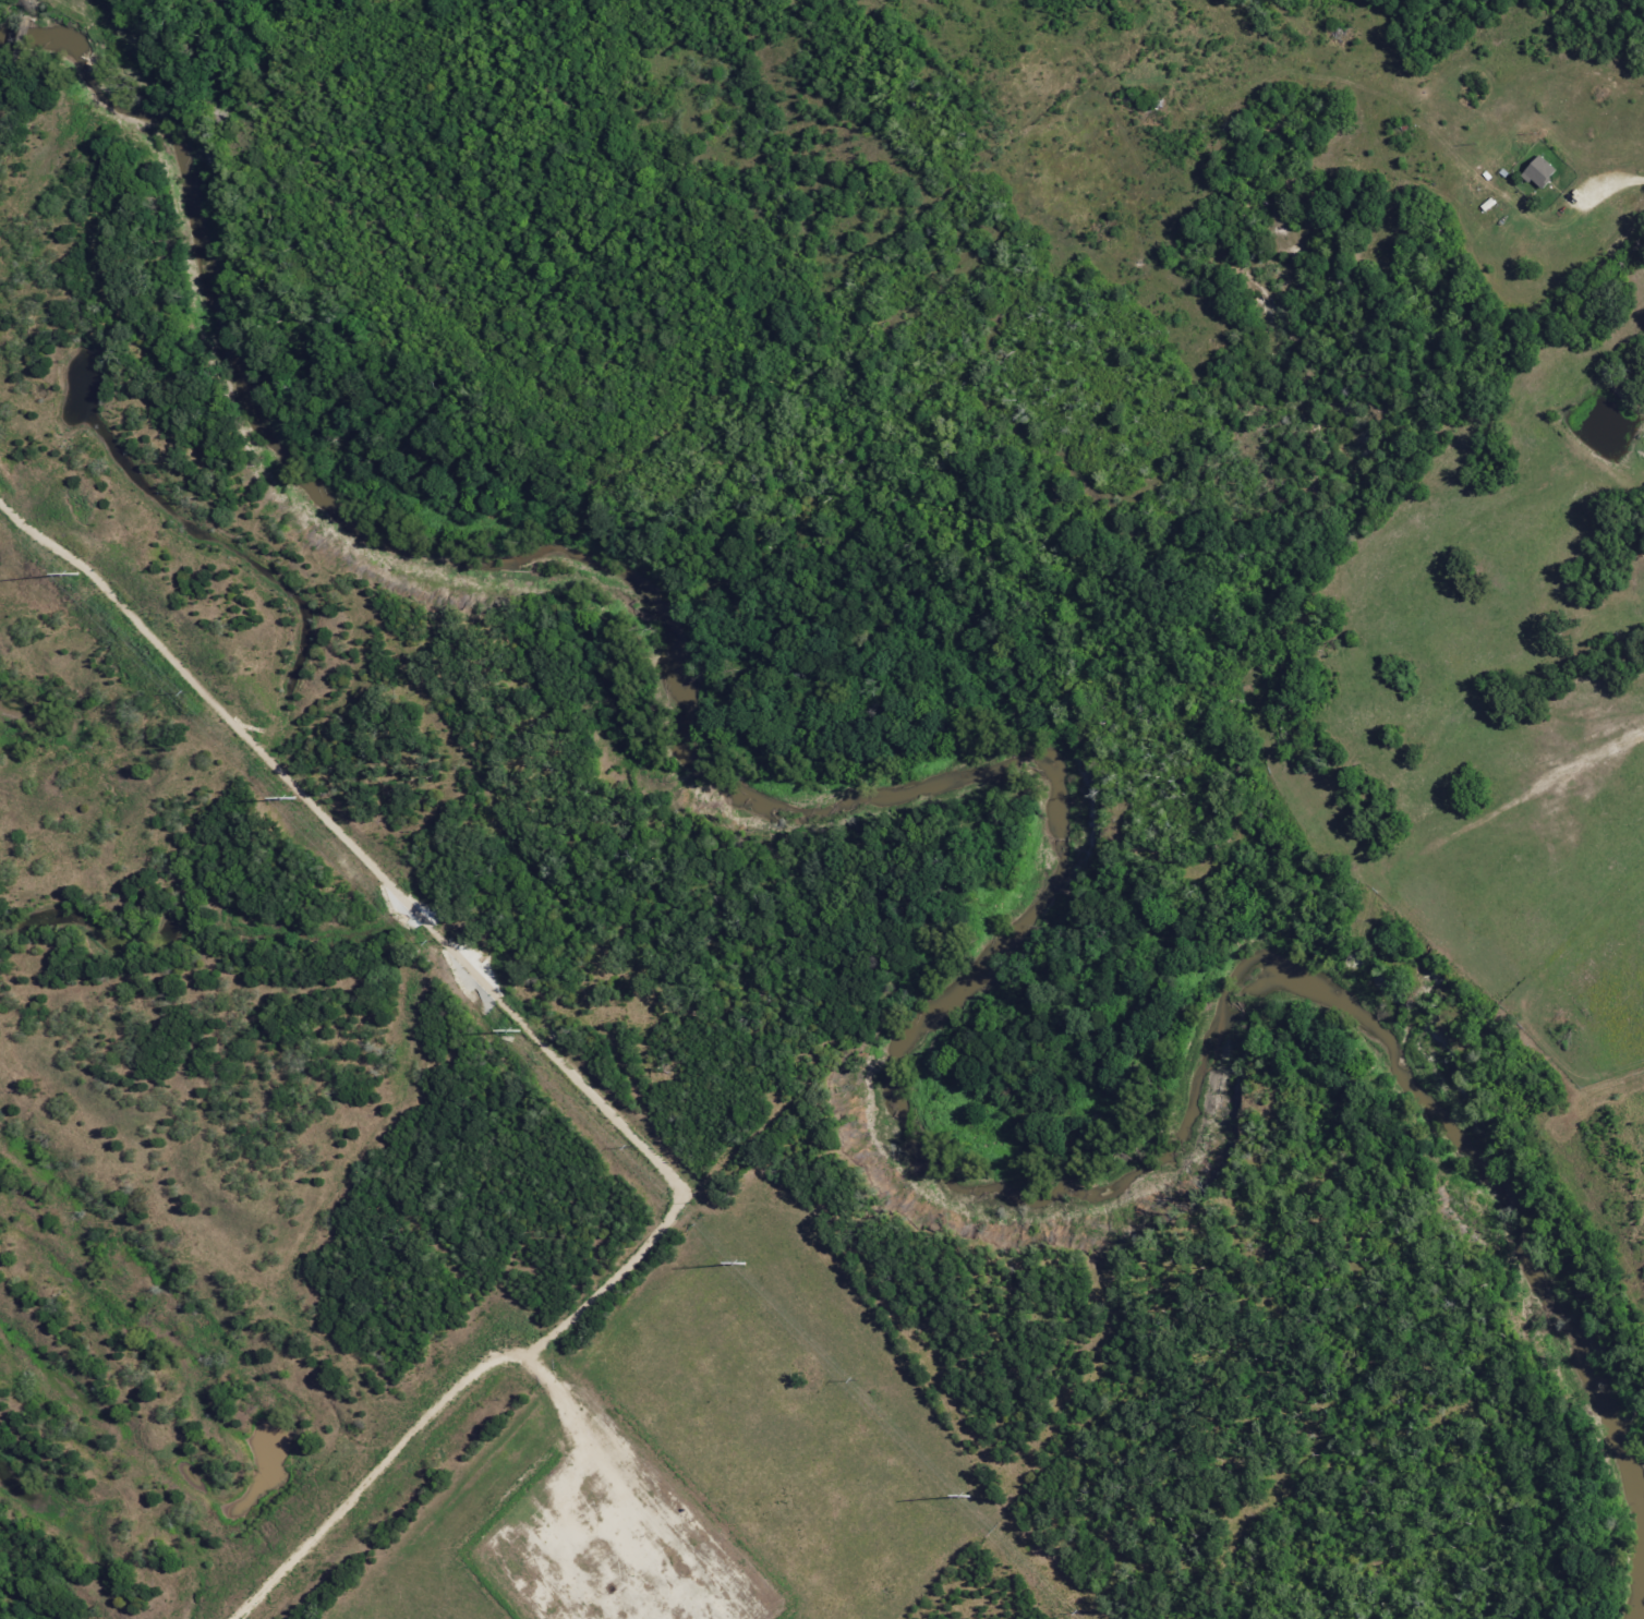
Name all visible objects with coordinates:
building: (1540, 171)

